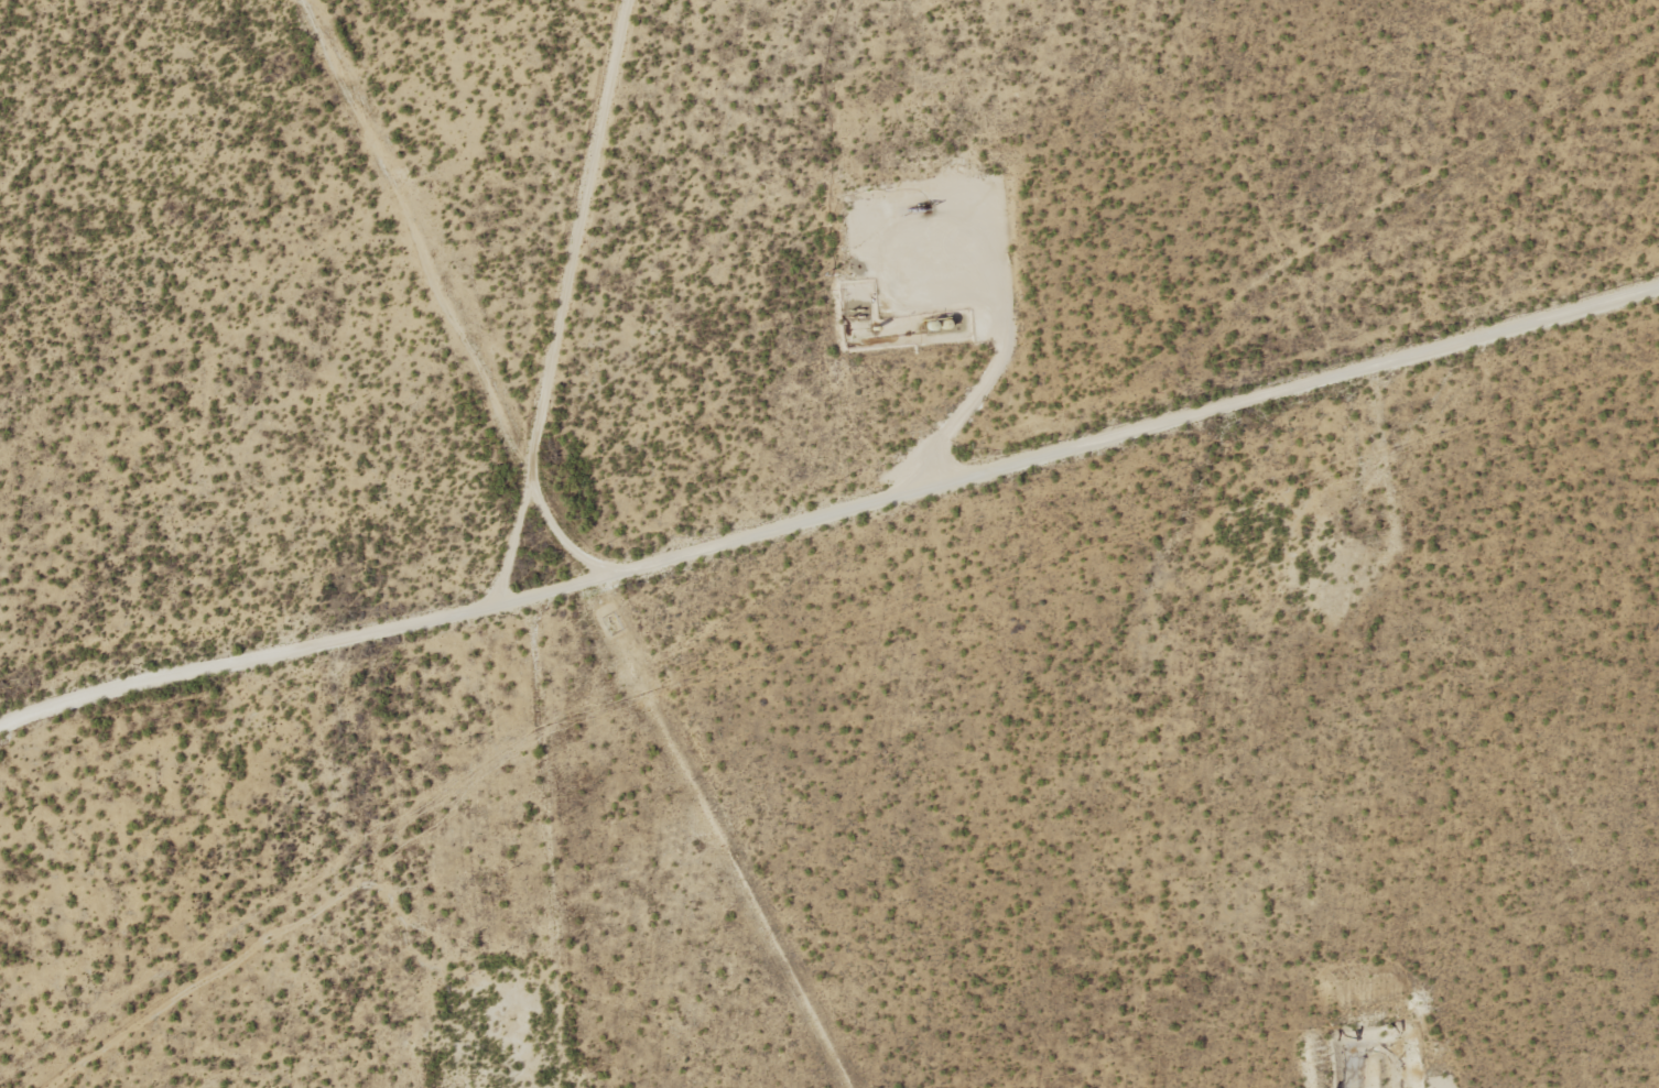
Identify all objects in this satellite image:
road: (845, 250)
road: (564, 297)
road: (831, 512)

